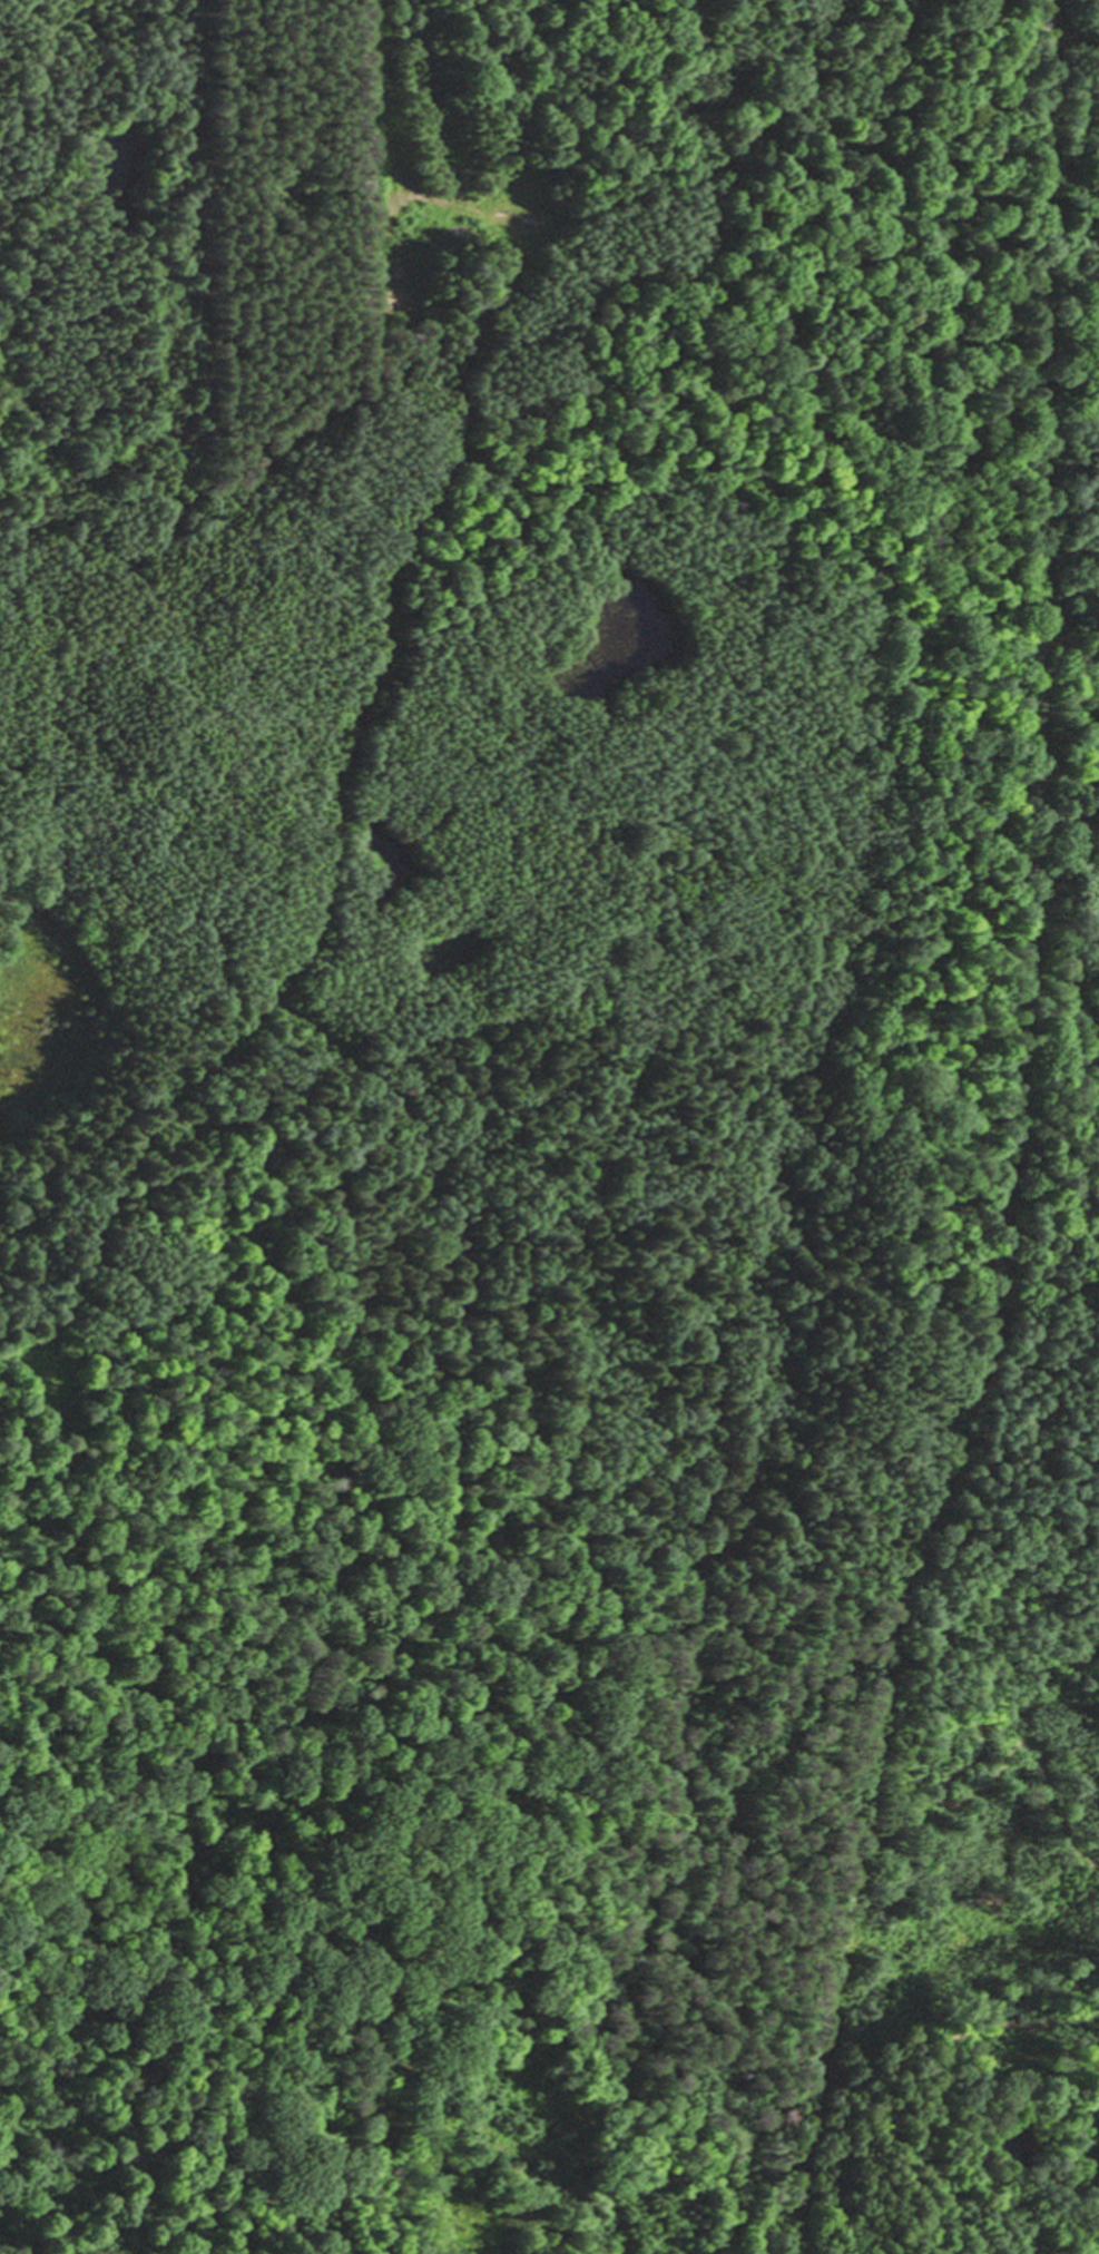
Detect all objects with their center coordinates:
road: (1068, 259)
park: (1070, 553)
road: (1004, 1139)
road: (925, 1179)
road: (1081, 1305)
road: (665, 1320)
road: (1039, 1599)
road: (353, 1969)
road: (867, 2088)
road: (938, 2090)

